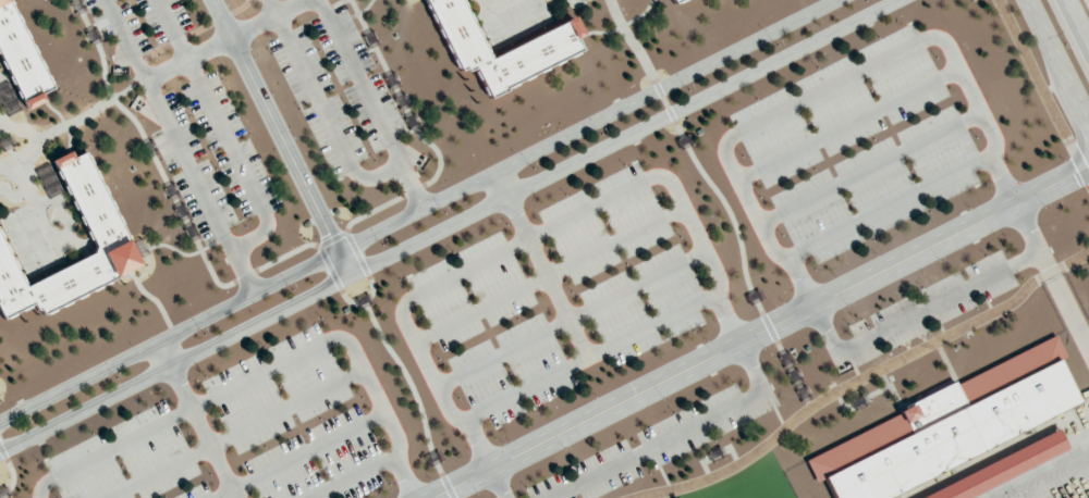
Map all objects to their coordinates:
building: (671, 0)
building: (675, 1)
road: (1077, 22)
building: (546, 43)
building: (20, 58)
road: (1059, 61)
road: (832, 87)
building: (8, 98)
road: (285, 134)
building: (46, 179)
road: (502, 179)
road: (719, 195)
road: (892, 208)
road: (413, 209)
road: (442, 224)
building: (108, 241)
road: (760, 329)
road: (166, 351)
building: (944, 426)
building: (1001, 469)

